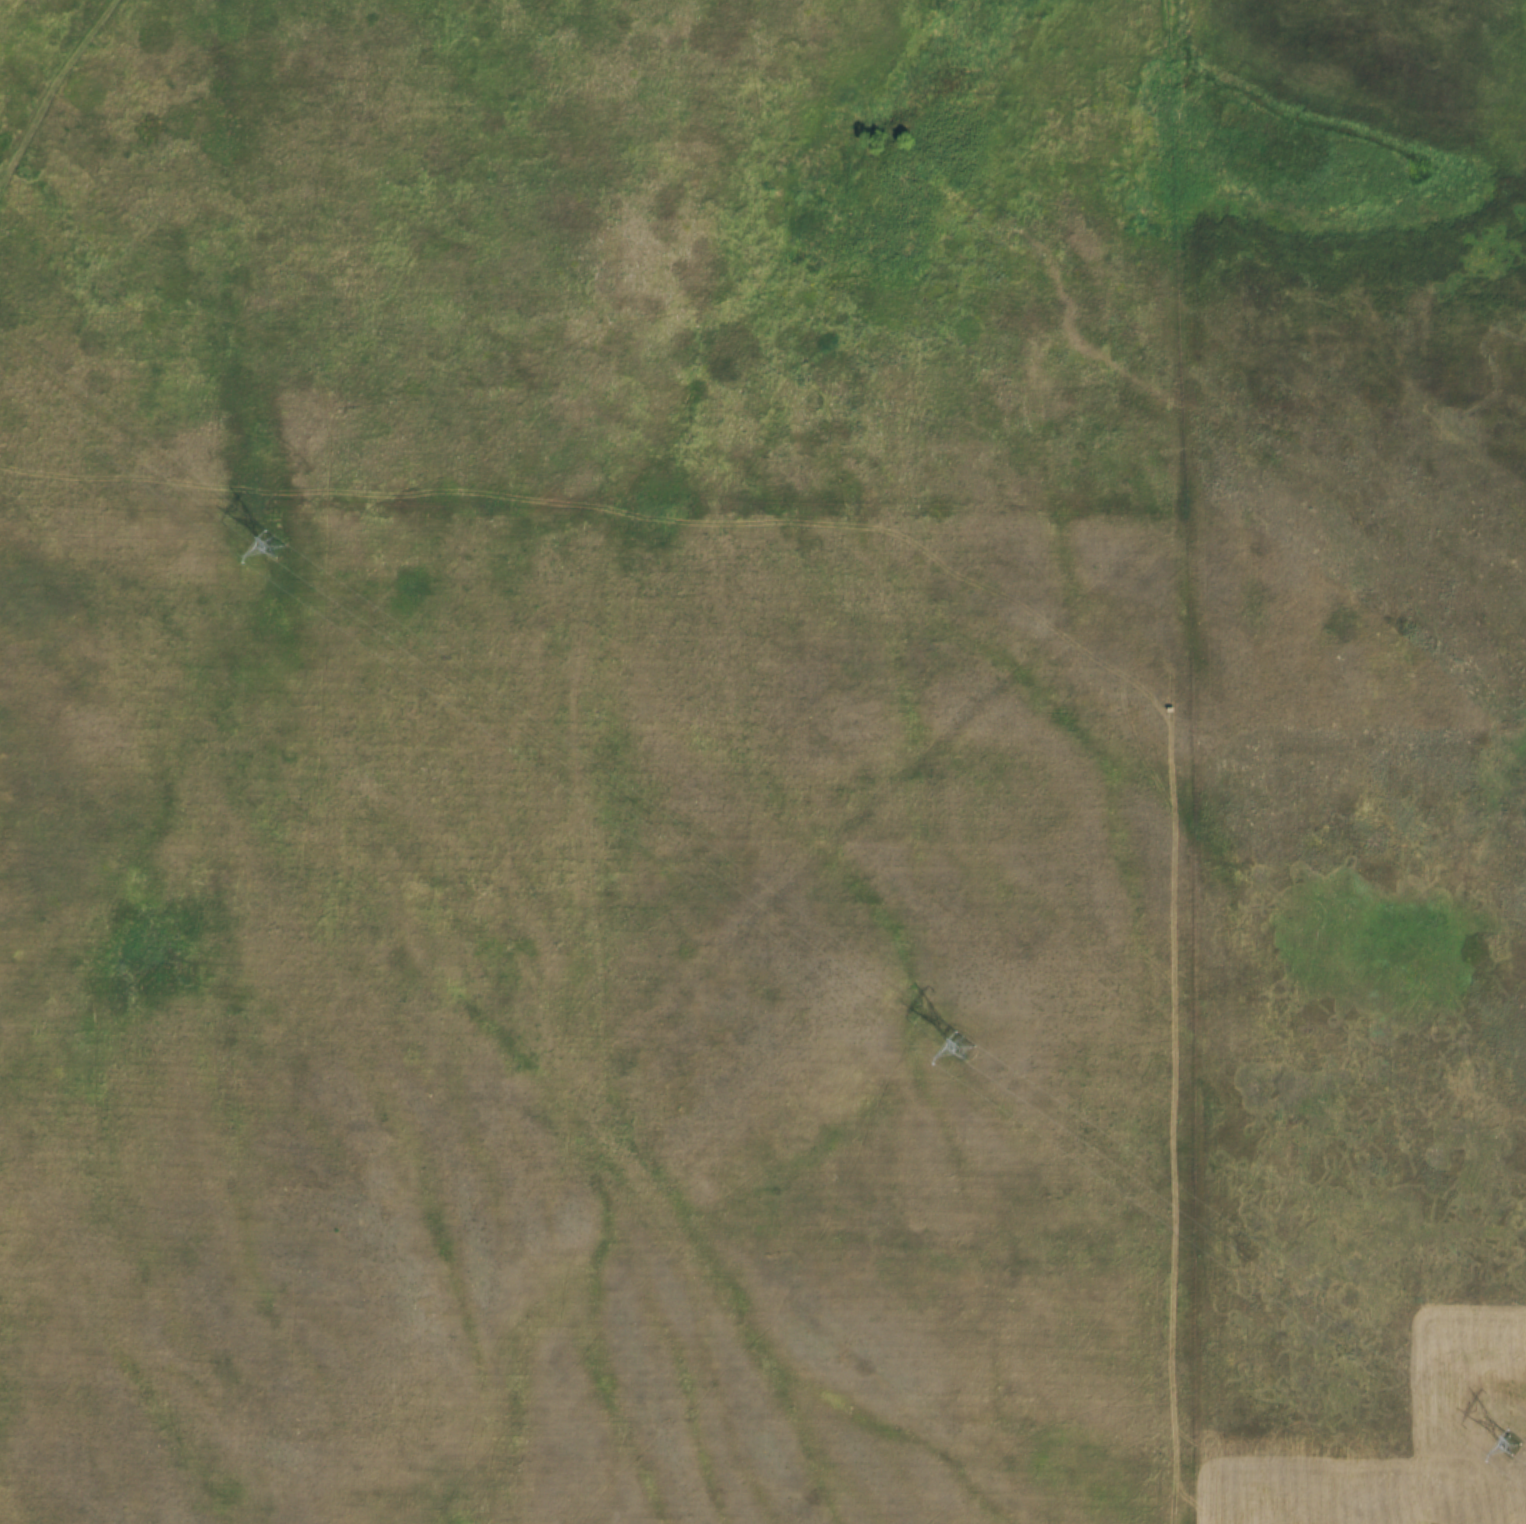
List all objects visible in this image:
power tower: (277, 499)
power tower: (961, 1071)
power tower: (1504, 1464)

